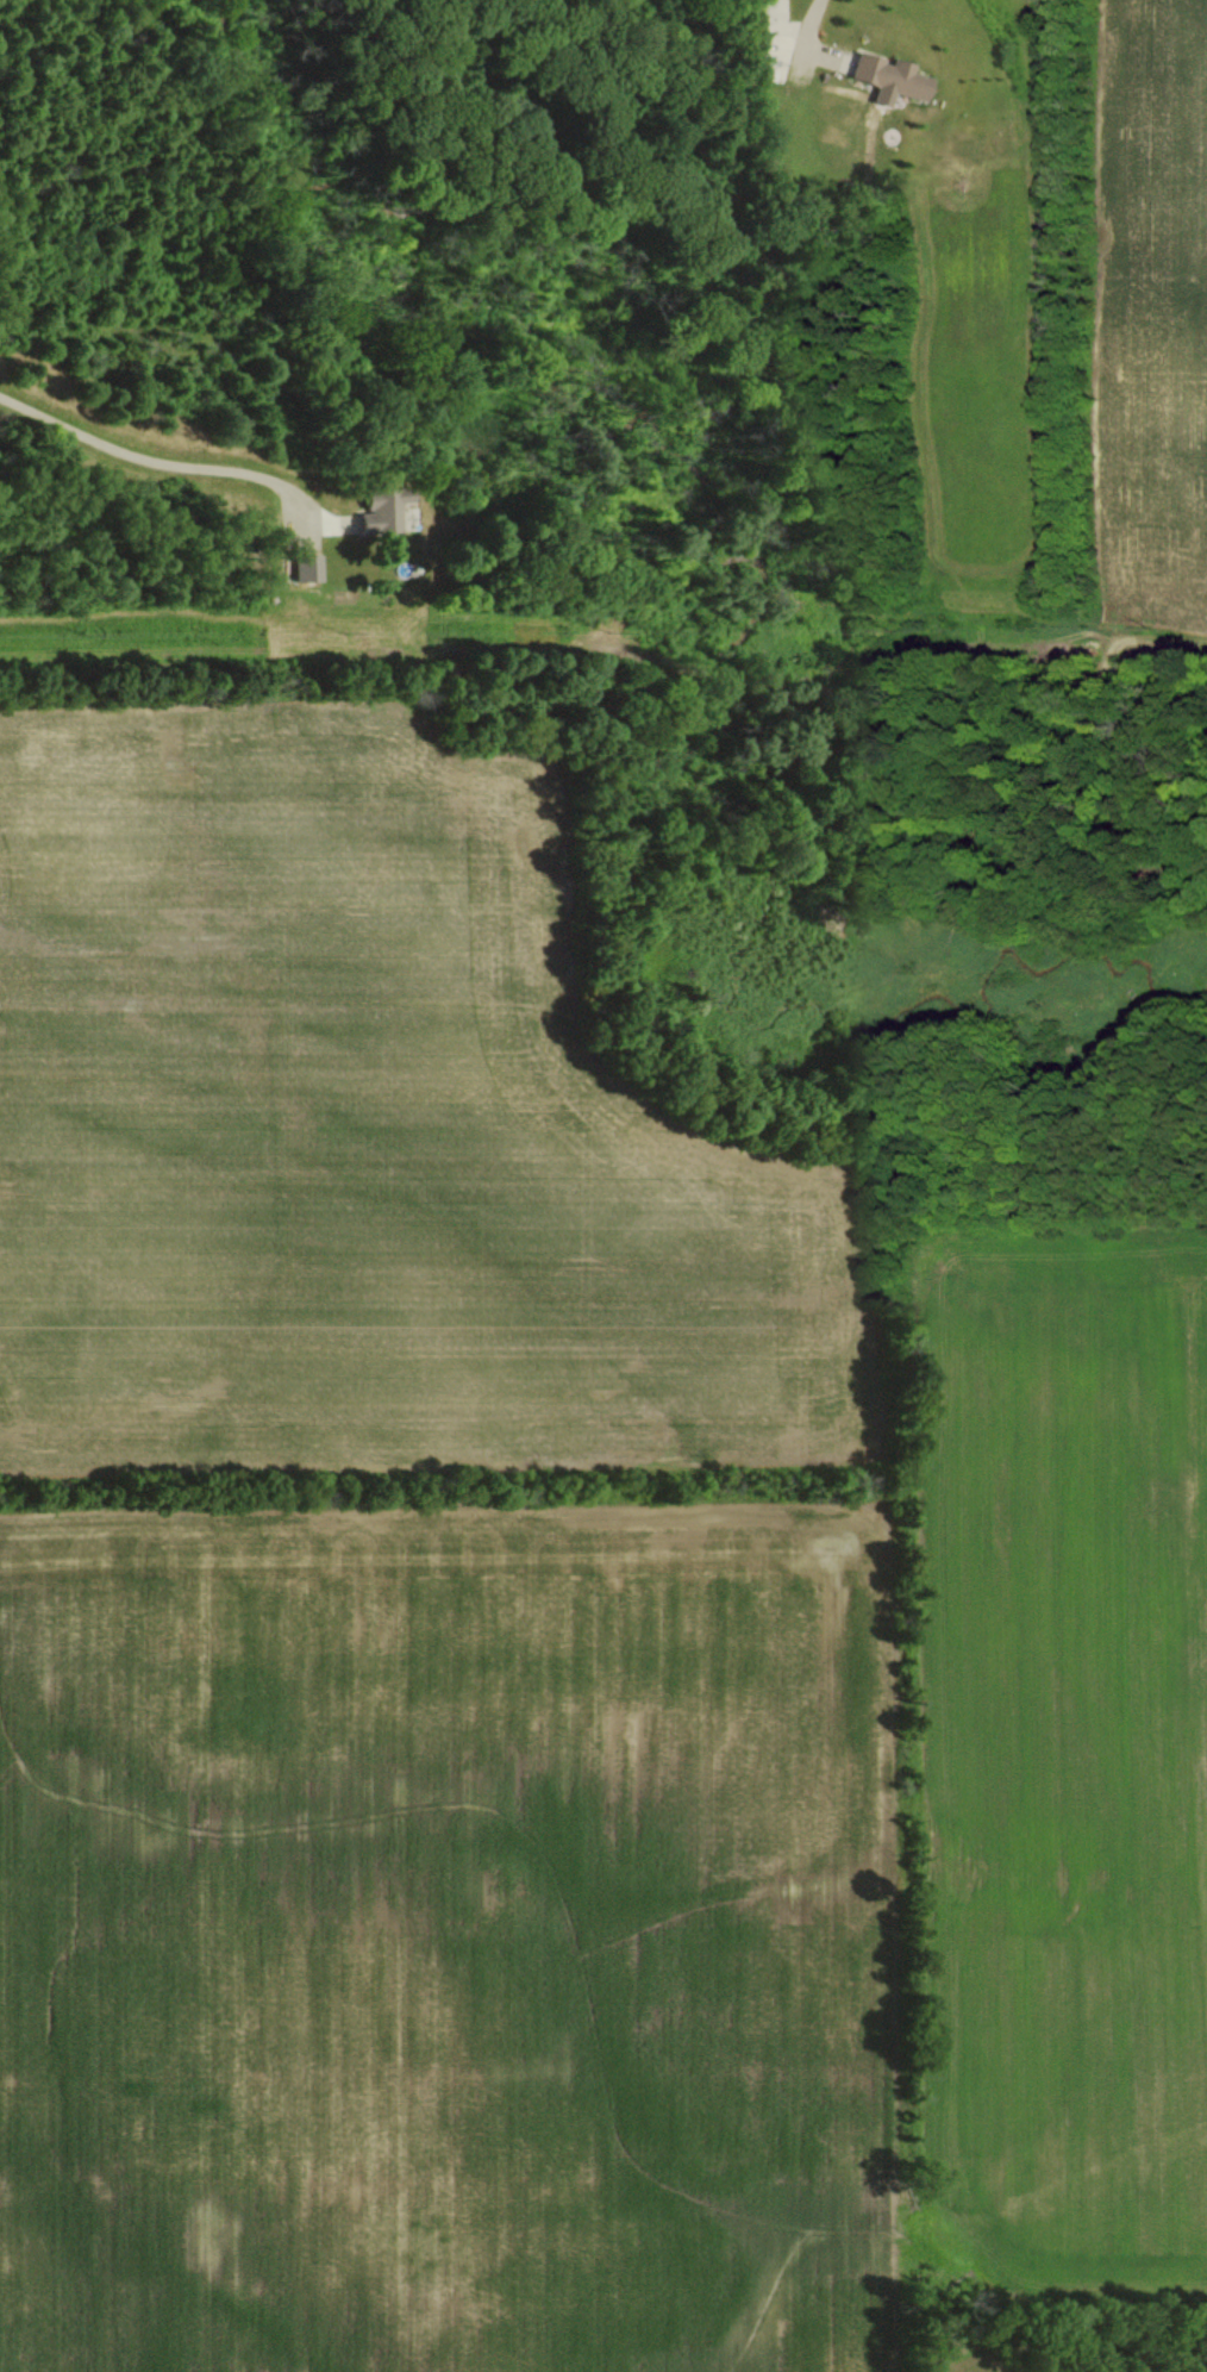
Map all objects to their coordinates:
road: (807, 30)
building: (882, 77)
road: (158, 458)
building: (375, 511)
building: (302, 568)

